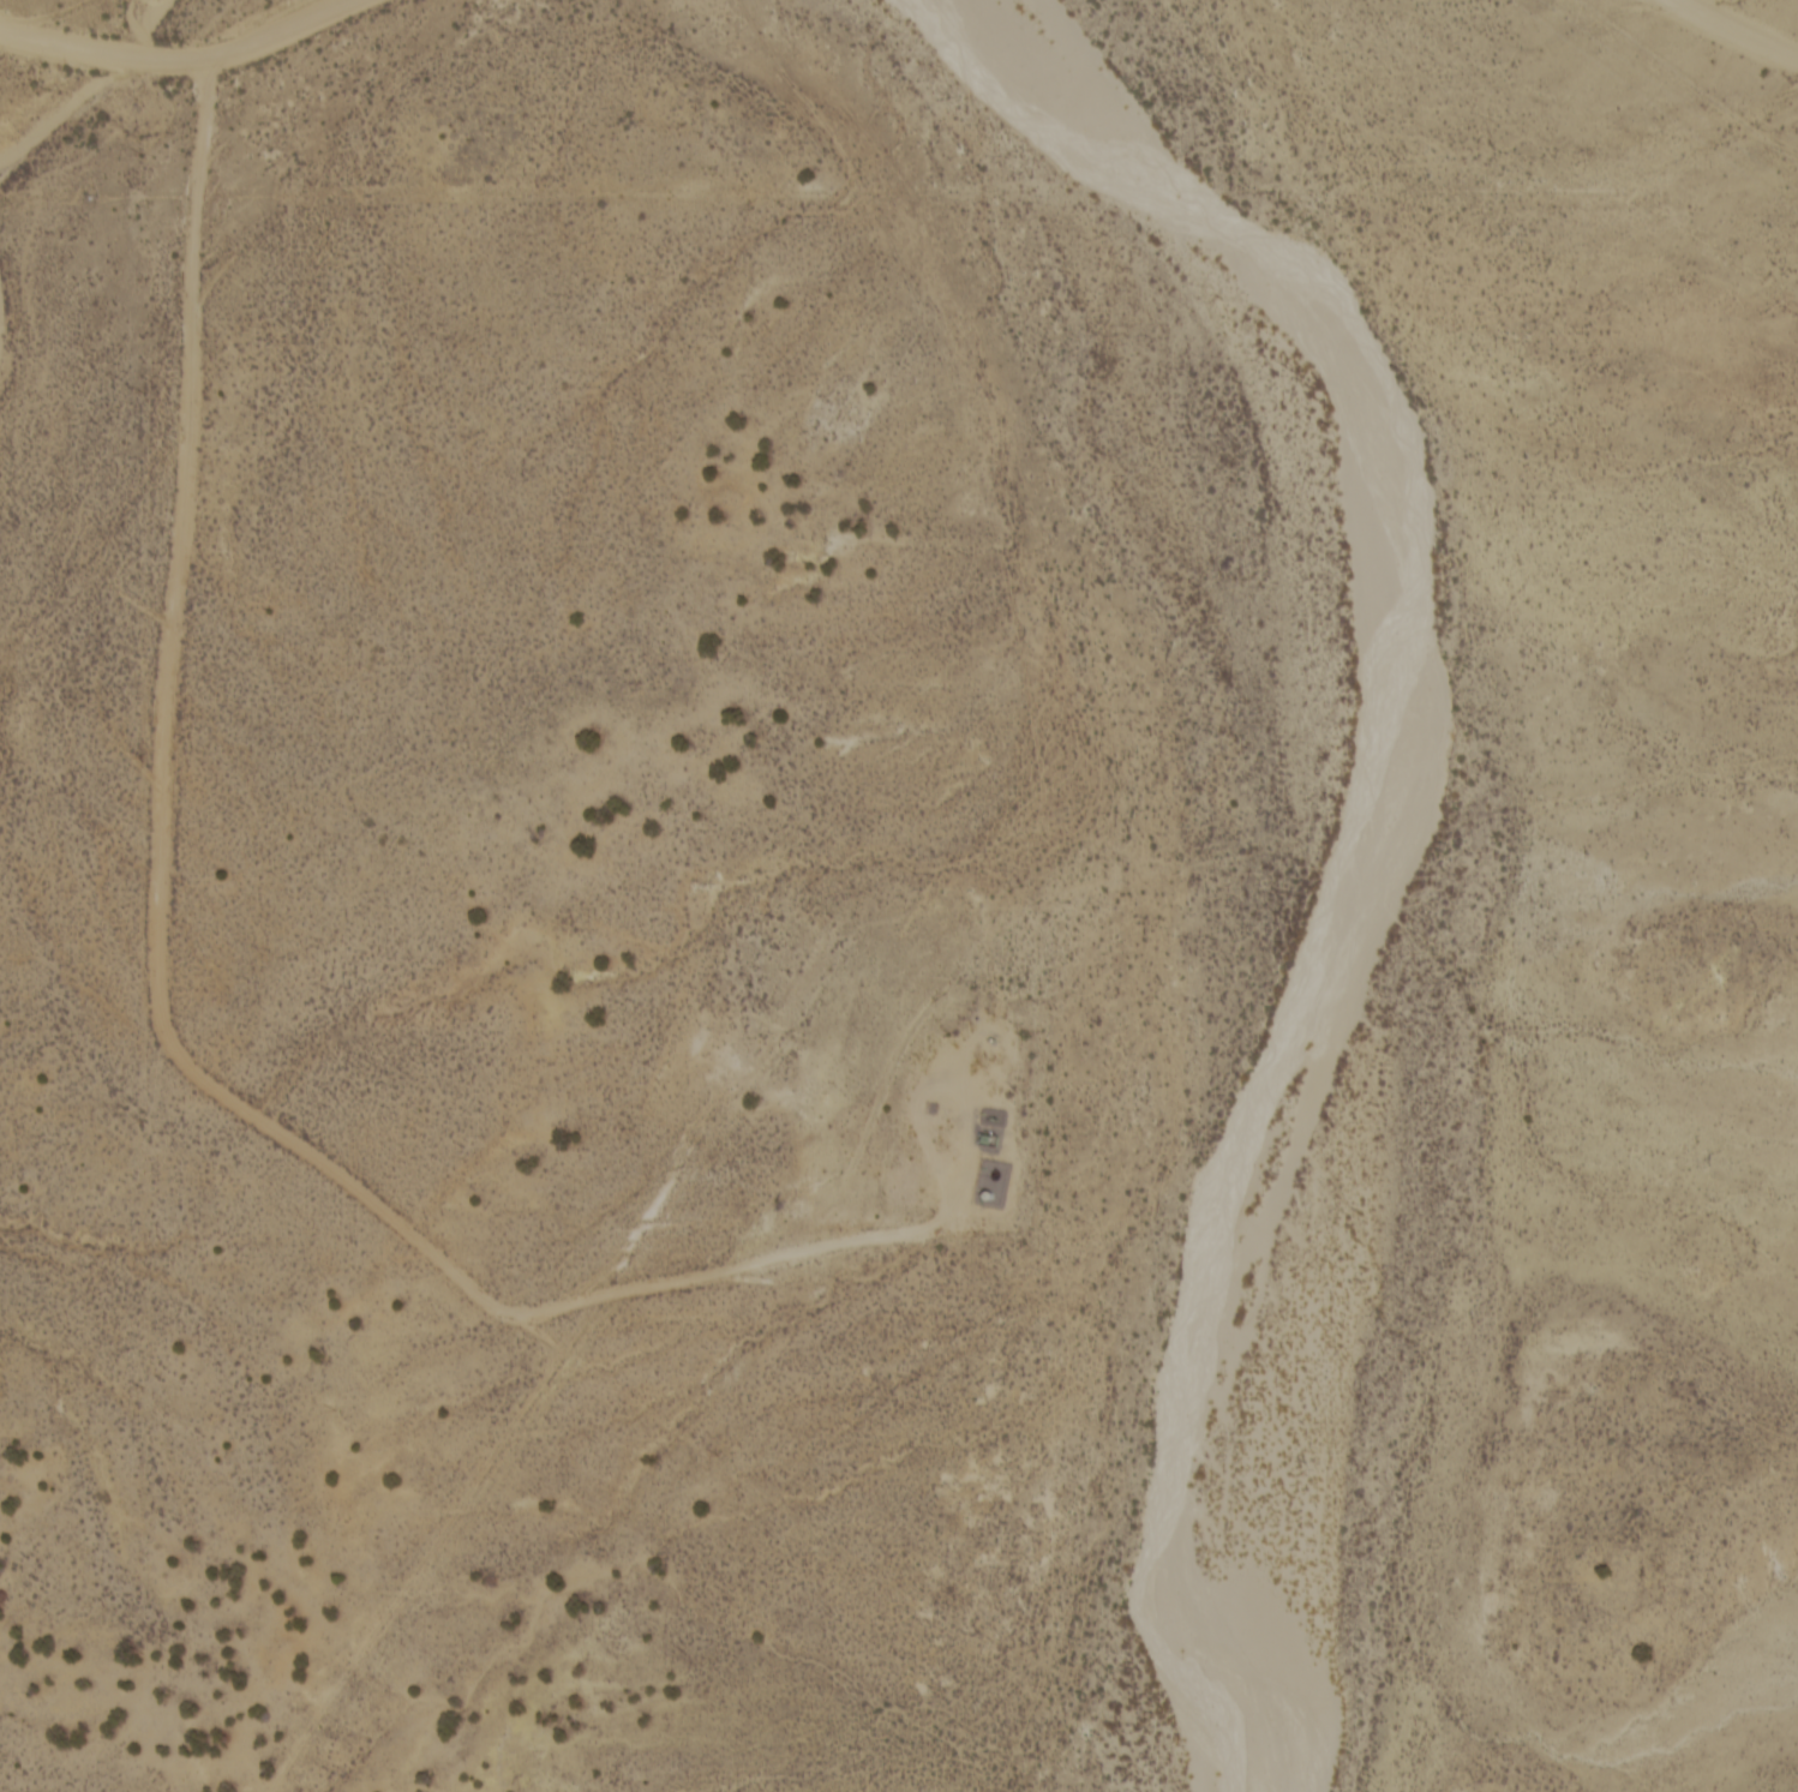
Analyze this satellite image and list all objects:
road: (1739, 31)
road: (186, 62)
river: (1384, 833)

